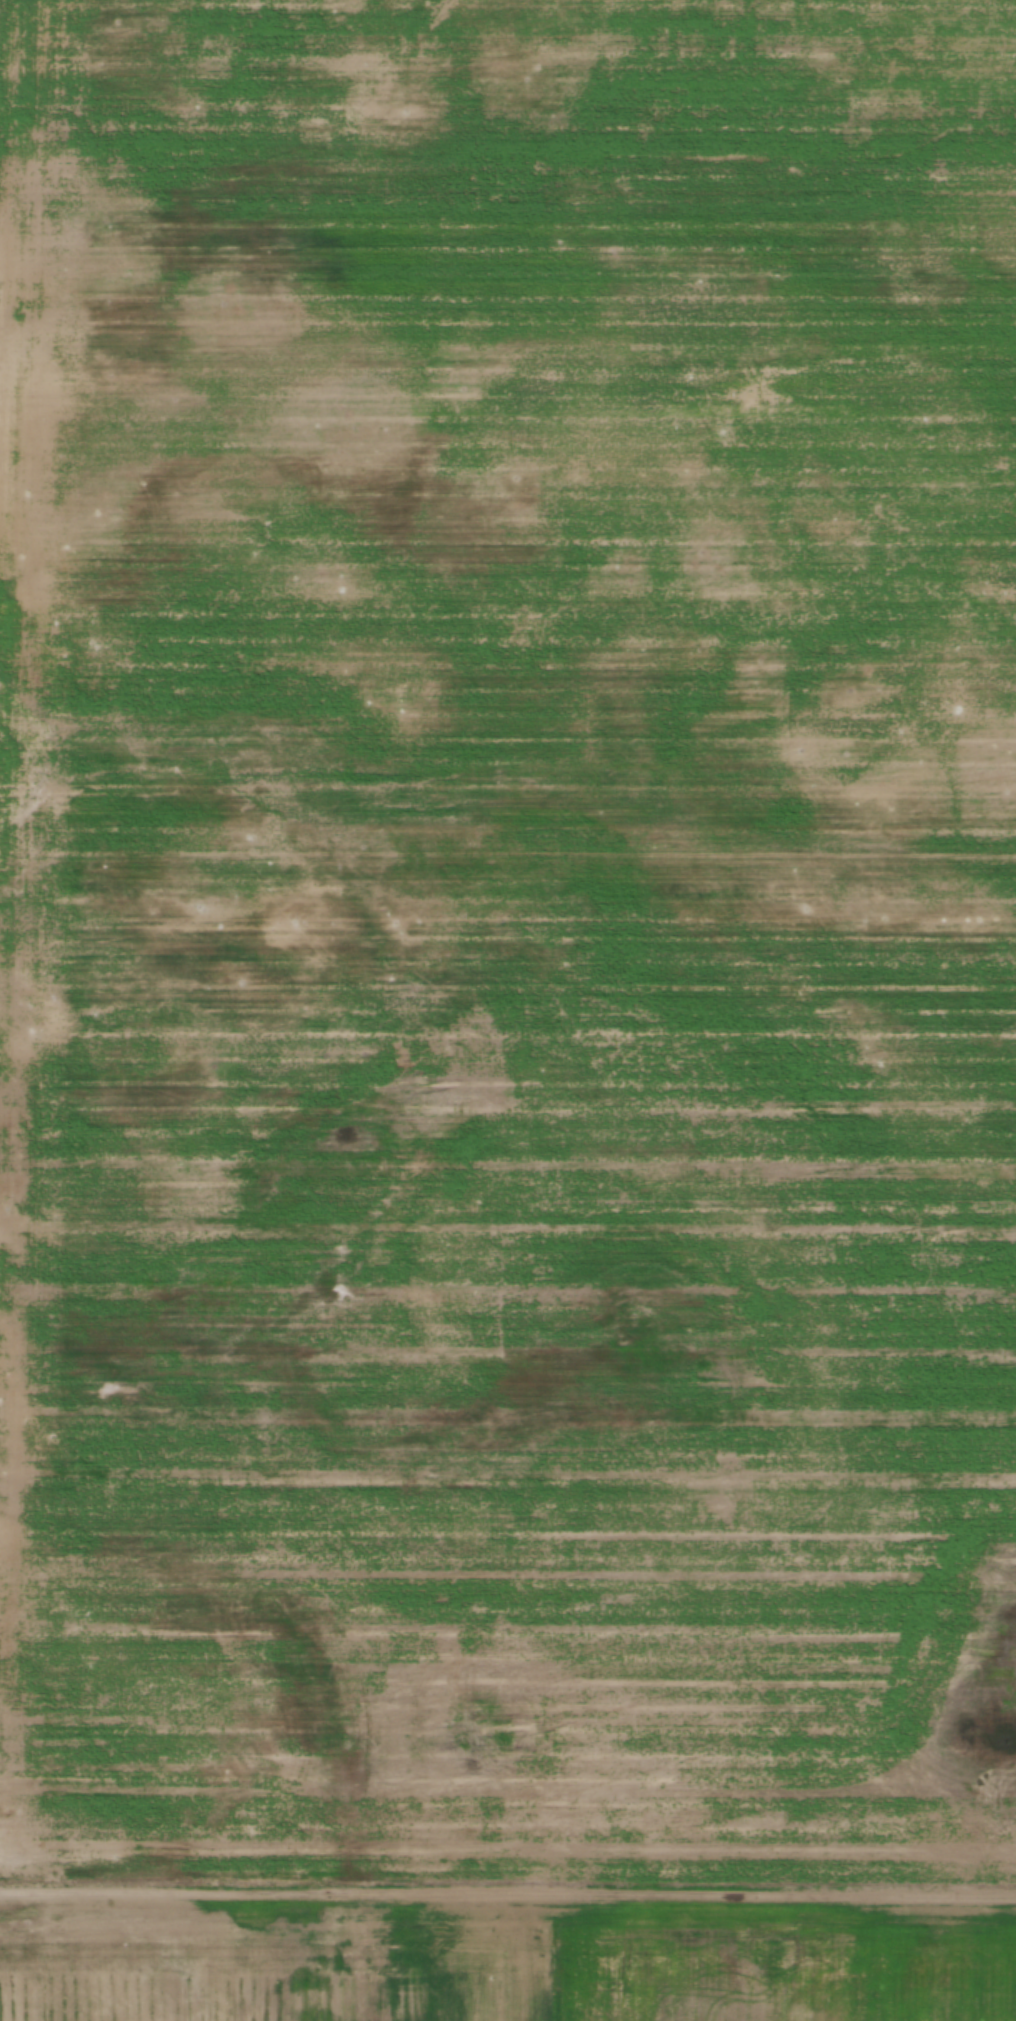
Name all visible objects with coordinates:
road: (507, 1893)

